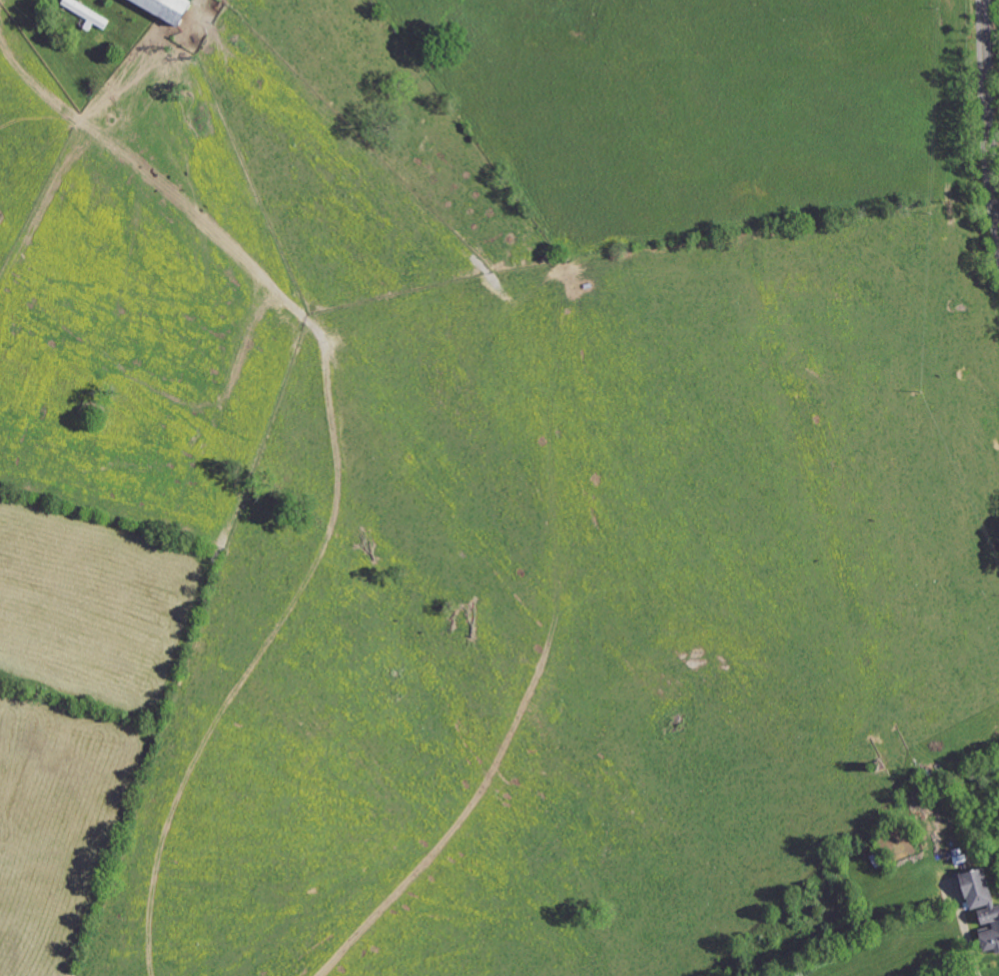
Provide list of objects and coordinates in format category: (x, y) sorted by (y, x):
building: (175, 9)
road: (986, 115)
road: (968, 942)

